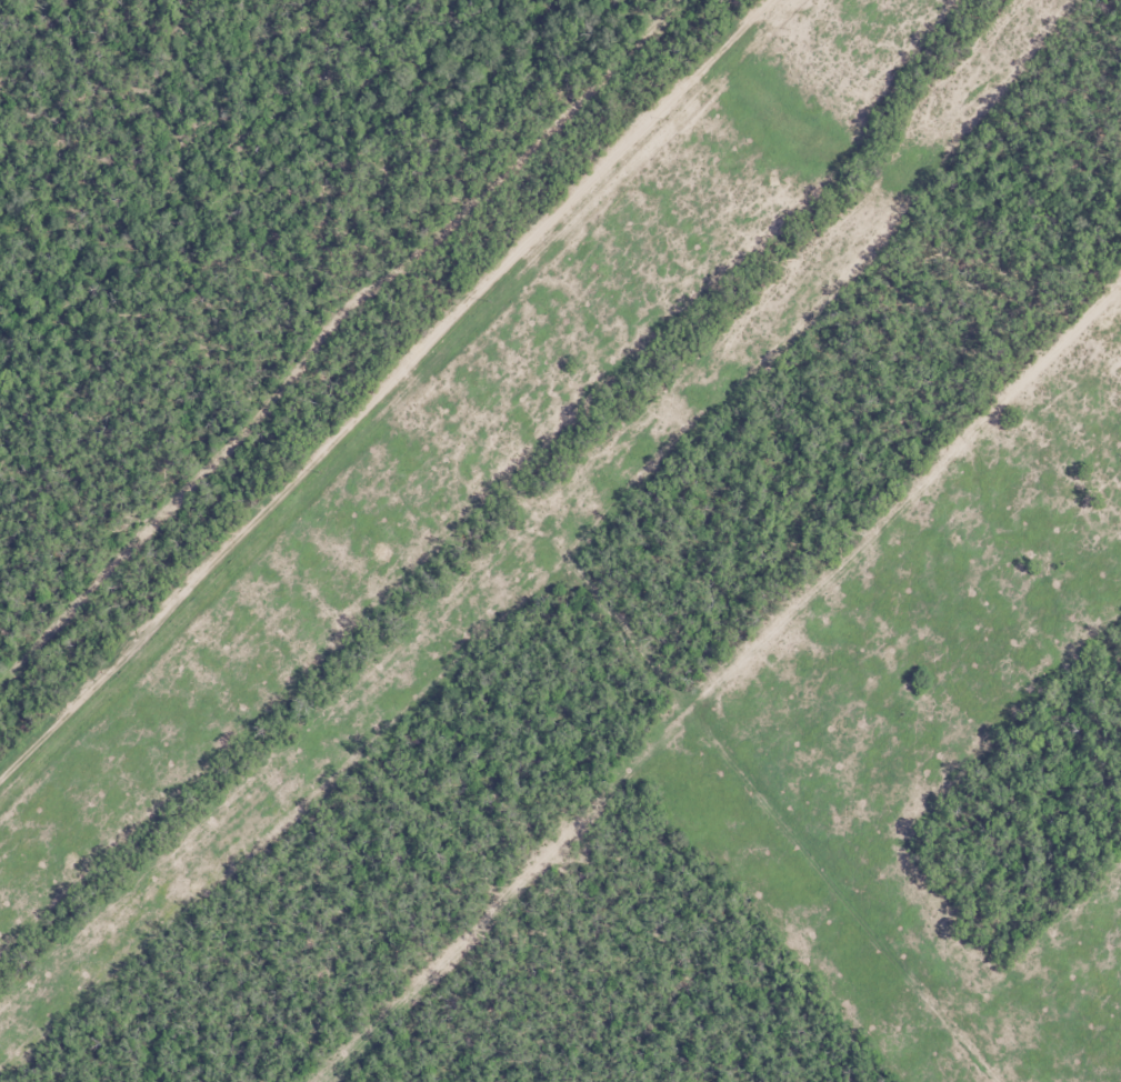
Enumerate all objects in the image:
road: (383, 387)
road: (442, 447)

